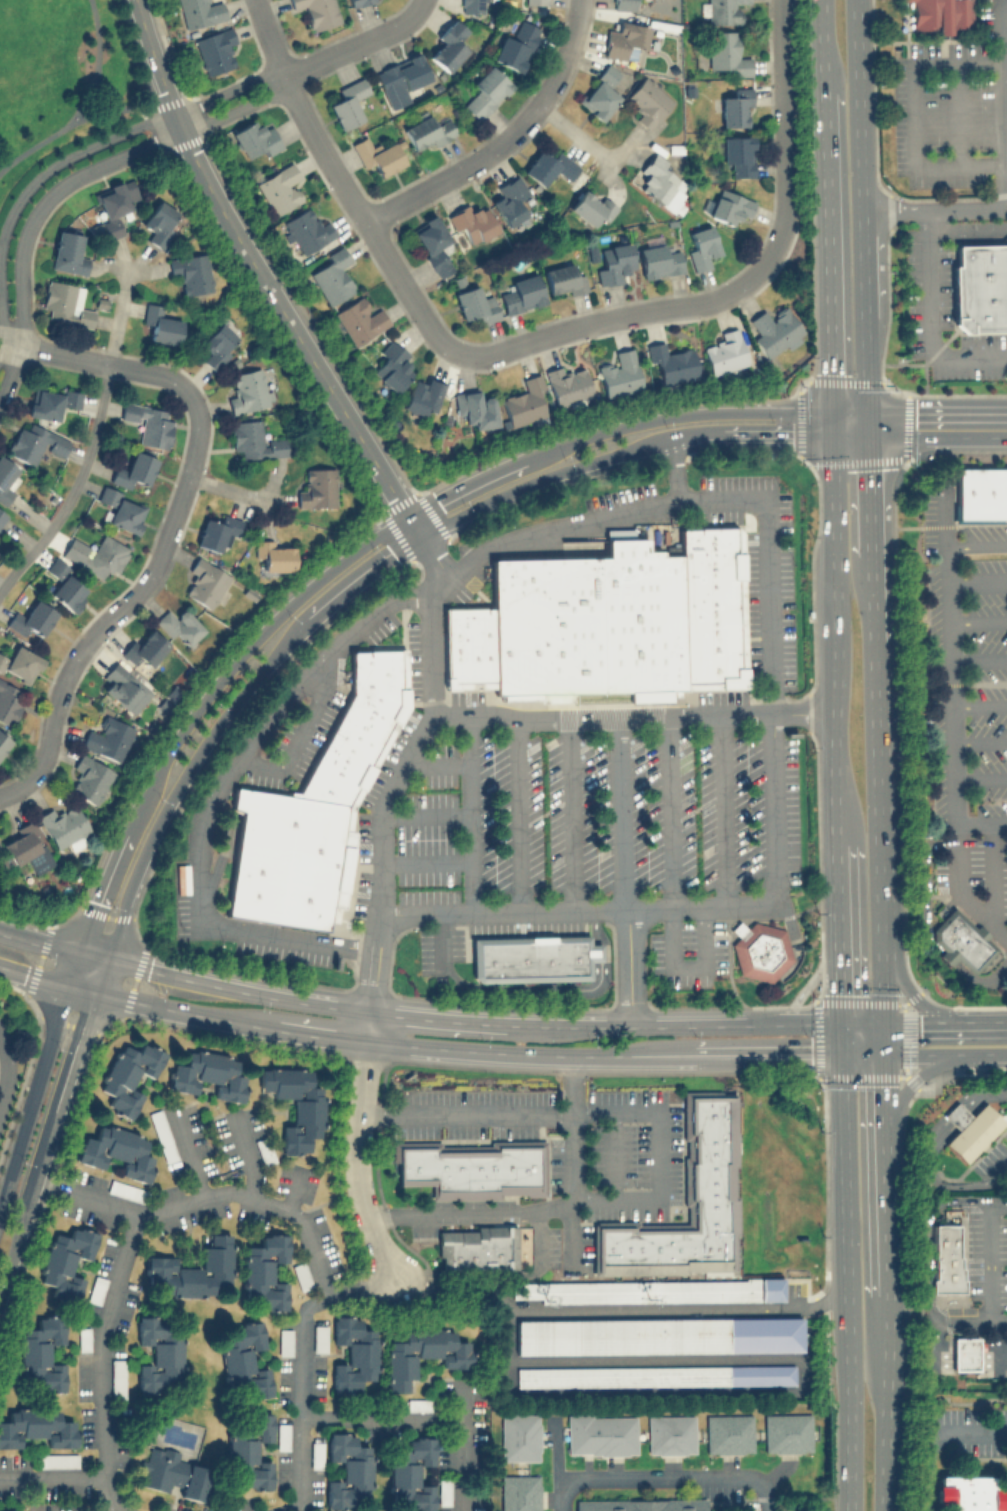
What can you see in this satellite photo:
building: (354, 1)
road: (420, 2)
building: (535, 2)
building: (623, 4)
building: (471, 6)
building: (723, 10)
building: (200, 12)
building: (317, 12)
building: (940, 15)
building: (624, 39)
road: (354, 44)
building: (447, 45)
road: (820, 45)
building: (515, 46)
building: (215, 50)
road: (96, 53)
road: (563, 54)
building: (726, 54)
road: (153, 57)
building: (400, 78)
park: (60, 80)
road: (228, 89)
building: (485, 91)
building: (600, 92)
building: (648, 101)
building: (347, 103)
building: (735, 107)
road: (999, 107)
road: (783, 109)
parking lot: (944, 110)
road: (913, 111)
road: (957, 111)
road: (80, 113)
building: (426, 131)
road: (573, 133)
building: (255, 138)
road: (158, 140)
road: (88, 146)
building: (377, 154)
building: (738, 154)
building: (548, 166)
road: (456, 172)
building: (661, 184)
building: (279, 188)
road: (345, 189)
building: (509, 200)
building: (115, 203)
building: (591, 205)
building: (729, 206)
road: (935, 210)
building: (472, 221)
building: (158, 222)
road: (5, 225)
road: (966, 229)
building: (307, 230)
building: (433, 244)
building: (701, 247)
building: (67, 252)
road: (826, 252)
road: (769, 254)
building: (658, 260)
building: (613, 263)
building: (191, 272)
building: (332, 275)
building: (562, 279)
building: (980, 288)
building: (520, 293)
building: (65, 303)
road: (20, 304)
building: (475, 304)
road: (1, 308)
road: (606, 317)
road: (929, 317)
road: (116, 319)
building: (359, 319)
parking lot: (943, 319)
building: (160, 323)
road: (293, 327)
building: (775, 330)
building: (217, 344)
building: (724, 352)
building: (671, 362)
road: (103, 363)
building: (392, 366)
building: (619, 373)
building: (567, 384)
building: (248, 390)
building: (422, 396)
building: (50, 401)
building: (524, 402)
building: (474, 408)
traffic signals: (831, 413)
road: (850, 418)
building: (148, 422)
traffic signals: (869, 423)
road: (938, 423)
road: (831, 425)
road: (850, 430)
road: (749, 435)
traffic signals: (831, 437)
building: (253, 440)
building: (34, 443)
building: (133, 470)
building: (5, 479)
road: (540, 479)
road: (74, 486)
road: (226, 487)
building: (317, 488)
building: (981, 493)
building: (121, 509)
road: (871, 513)
building: (2, 515)
road: (942, 515)
road: (588, 524)
building: (218, 532)
road: (975, 547)
road: (359, 548)
building: (96, 554)
building: (273, 554)
road: (364, 576)
building: (206, 581)
road: (977, 582)
building: (66, 585)
building: (711, 607)
parking lot: (769, 607)
road: (115, 608)
building: (31, 618)
road: (977, 623)
building: (179, 625)
building: (588, 626)
road: (836, 640)
building: (145, 647)
building: (468, 648)
road: (978, 658)
building: (20, 663)
road: (949, 686)
building: (125, 687)
building: (8, 702)
parking lot: (967, 706)
road: (978, 707)
road: (635, 717)
building: (359, 727)
road: (297, 737)
building: (107, 738)
road: (978, 741)
building: (3, 742)
road: (402, 769)
parking lot: (385, 772)
road: (183, 775)
road: (979, 777)
building: (89, 778)
road: (212, 795)
road: (425, 810)
road: (724, 811)
road: (624, 814)
road: (519, 815)
road: (572, 815)
road: (470, 816)
parking lot: (597, 818)
road: (982, 823)
building: (63, 826)
building: (27, 848)
road: (773, 858)
building: (289, 859)
road: (426, 861)
road: (989, 874)
road: (672, 884)
road: (925, 886)
road: (957, 893)
parking lot: (181, 898)
road: (596, 927)
road: (845, 934)
building: (960, 940)
road: (40, 941)
road: (441, 942)
parking lot: (440, 947)
building: (758, 950)
road: (596, 951)
parking lot: (282, 952)
parking lot: (688, 954)
road: (92, 957)
building: (531, 957)
road: (946, 958)
road: (627, 968)
road: (75, 970)
road: (34, 975)
road: (97, 976)
road: (981, 977)
road: (529, 986)
road: (236, 987)
road: (80, 989)
road: (909, 991)
road: (183, 1010)
road: (442, 1017)
road: (368, 1025)
road: (680, 1025)
traffic signals: (848, 1025)
road: (979, 1025)
road: (866, 1026)
road: (918, 1026)
traffic signals: (885, 1027)
road: (321, 1033)
road: (848, 1039)
road: (885, 1040)
road: (3, 1041)
road: (530, 1052)
road: (771, 1053)
traffic signals: (848, 1053)
road: (867, 1053)
road: (946, 1053)
traffic signals: (886, 1054)
road: (5, 1073)
building: (207, 1074)
building: (127, 1075)
road: (917, 1077)
road: (886, 1086)
road: (35, 1098)
building: (294, 1104)
building: (969, 1129)
building: (162, 1135)
road: (45, 1143)
building: (115, 1150)
building: (264, 1150)
road: (658, 1152)
road: (611, 1154)
road: (248, 1157)
road: (573, 1157)
road: (191, 1159)
road: (362, 1162)
building: (471, 1167)
building: (118, 1187)
road: (295, 1192)
road: (206, 1197)
building: (687, 1201)
road: (537, 1234)
building: (477, 1247)
building: (945, 1259)
building: (65, 1261)
road: (987, 1262)
building: (192, 1269)
building: (264, 1271)
building: (301, 1275)
road: (849, 1281)
building: (95, 1289)
building: (648, 1290)
road: (820, 1302)
road: (887, 1314)
building: (658, 1335)
building: (319, 1337)
building: (83, 1338)
building: (285, 1341)
road: (105, 1343)
building: (353, 1353)
building: (421, 1353)
building: (964, 1353)
building: (160, 1354)
building: (40, 1355)
building: (243, 1362)
road: (303, 1366)
building: (655, 1375)
building: (117, 1377)
building: (417, 1403)
road: (384, 1417)
building: (36, 1426)
building: (786, 1432)
building: (728, 1433)
building: (601, 1434)
building: (670, 1434)
building: (283, 1435)
building: (519, 1436)
building: (248, 1447)
road: (464, 1447)
building: (315, 1455)
building: (57, 1459)
building: (348, 1470)
building: (171, 1472)
building: (411, 1474)
road: (74, 1477)
road: (662, 1477)
building: (444, 1491)
building: (520, 1492)
building: (968, 1492)
building: (641, 1504)
road: (119, 1509)
road: (295, 1509)
building: (10, 1510)

